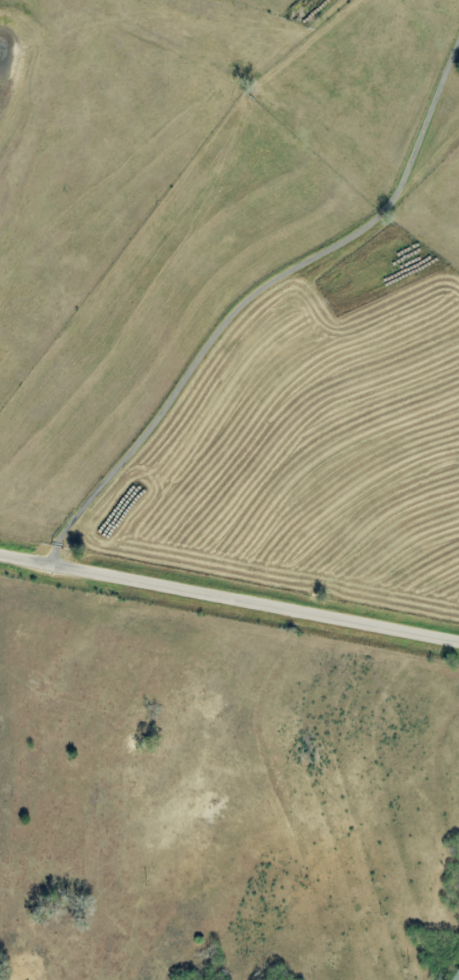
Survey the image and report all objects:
road: (258, 292)
road: (229, 598)
building: (458, 961)
building: (454, 974)

